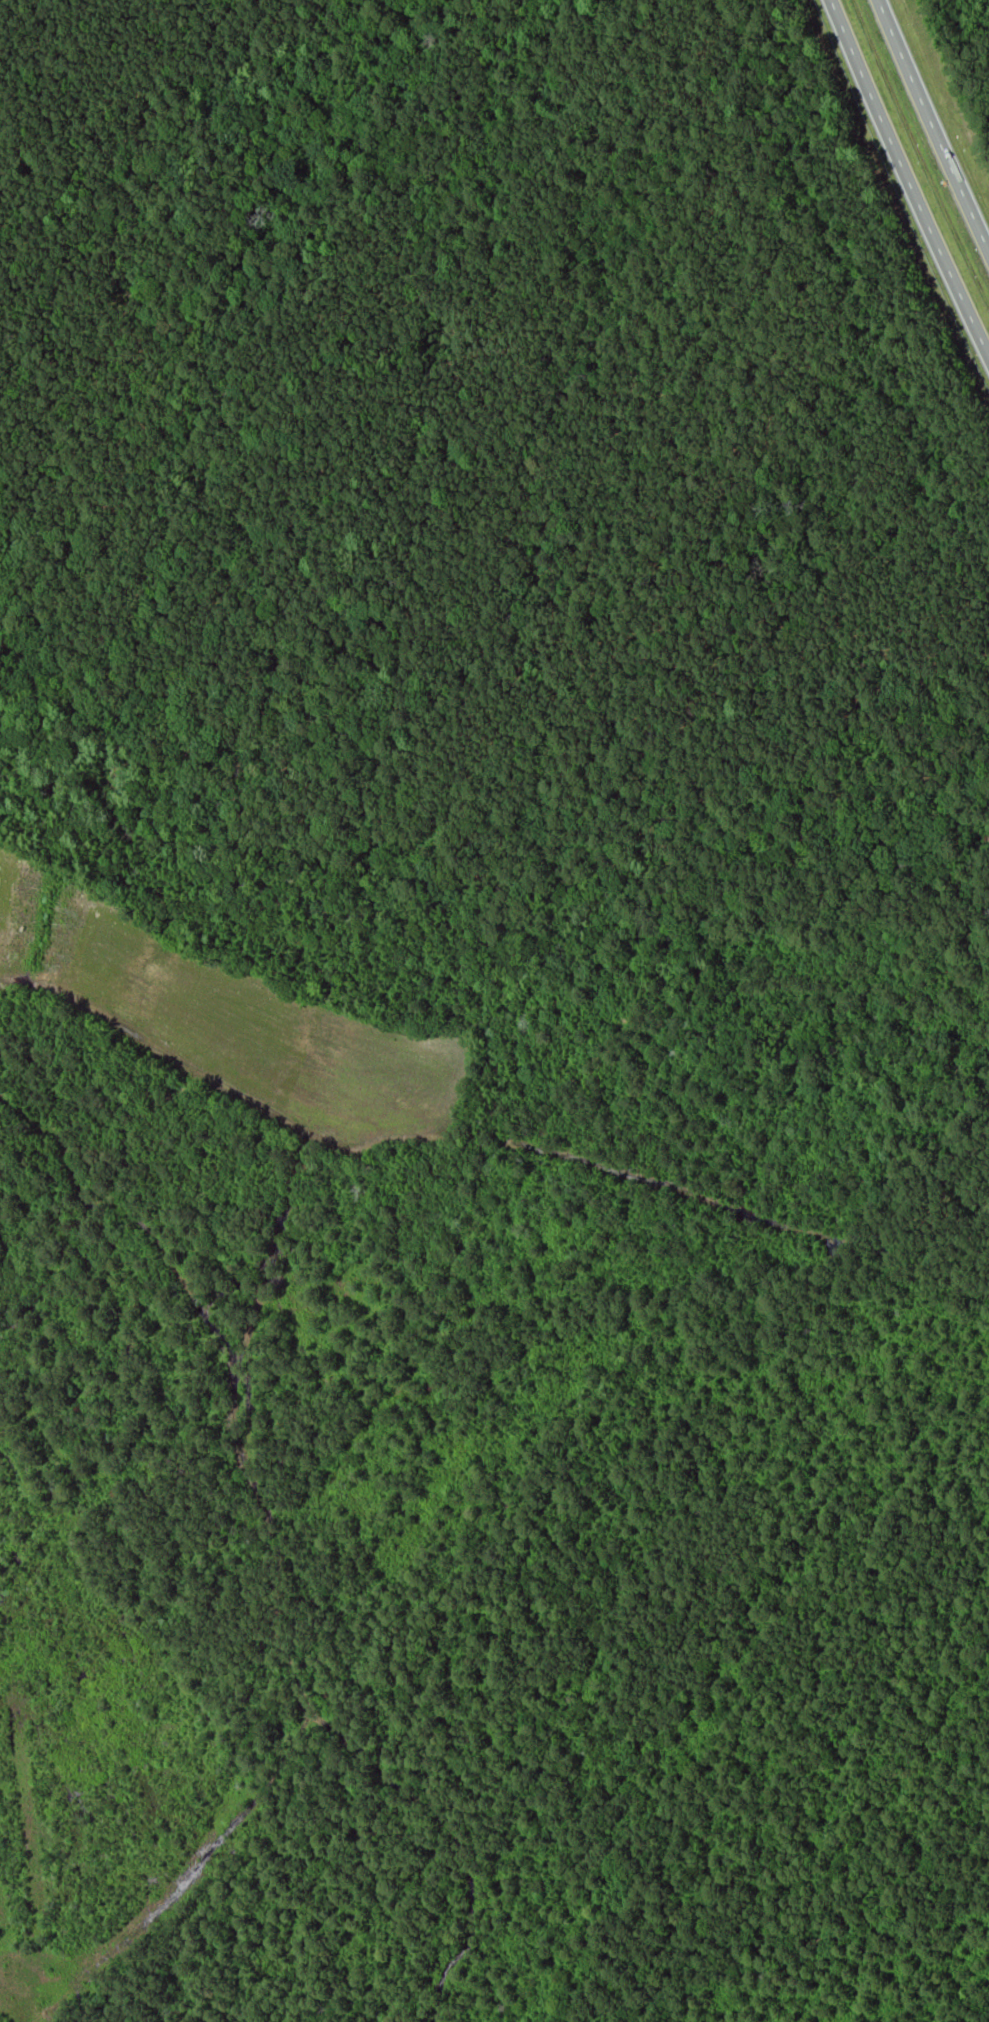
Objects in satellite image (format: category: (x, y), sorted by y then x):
road: (930, 127)
road: (906, 176)

